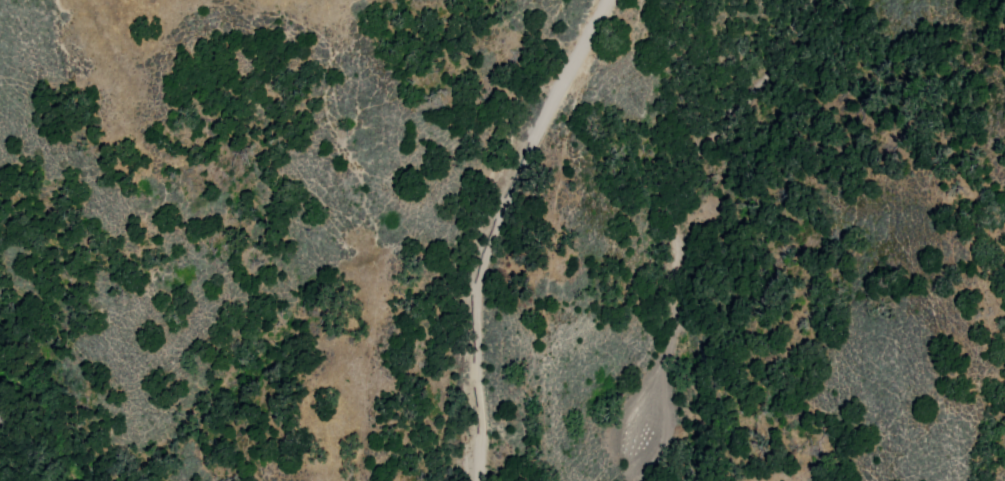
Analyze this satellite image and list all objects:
road: (485, 226)
road: (24, 448)

